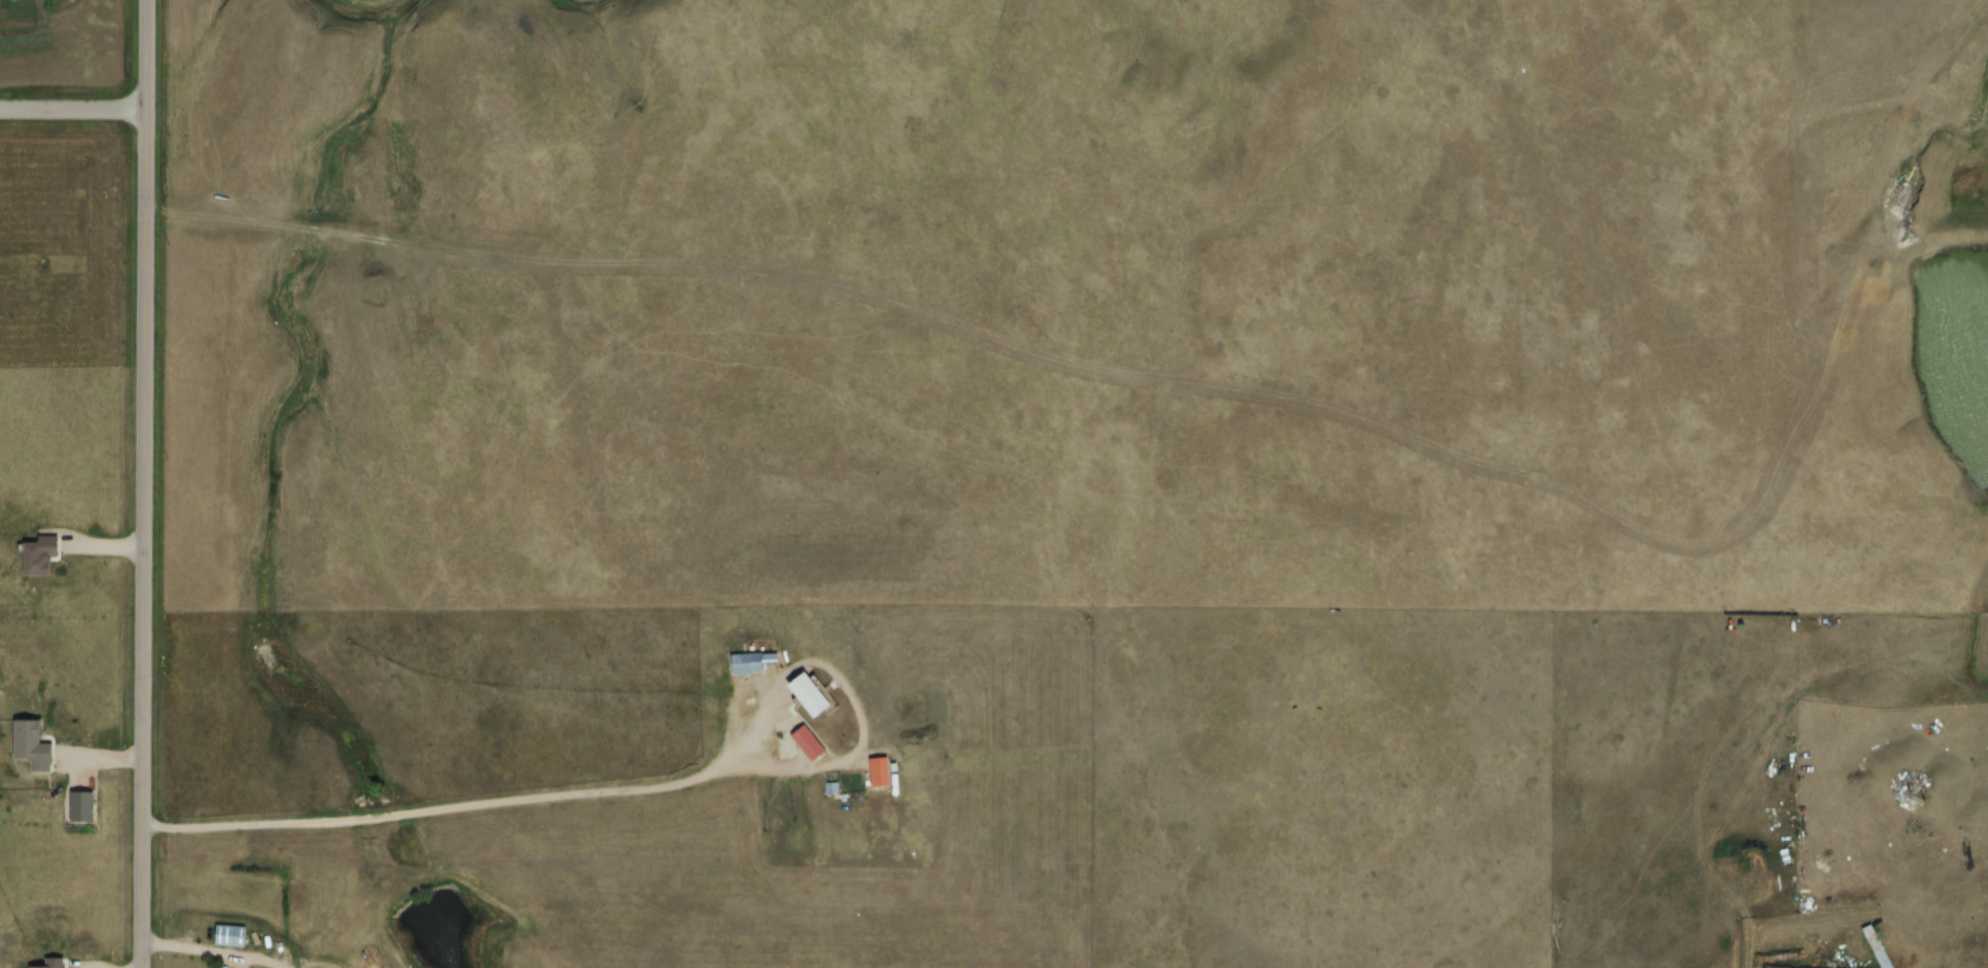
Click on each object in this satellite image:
road: (67, 114)
road: (133, 483)
building: (40, 564)
building: (751, 671)
building: (811, 702)
building: (808, 751)
building: (32, 753)
building: (880, 781)
building: (230, 943)
building: (1874, 951)
building: (54, 966)

